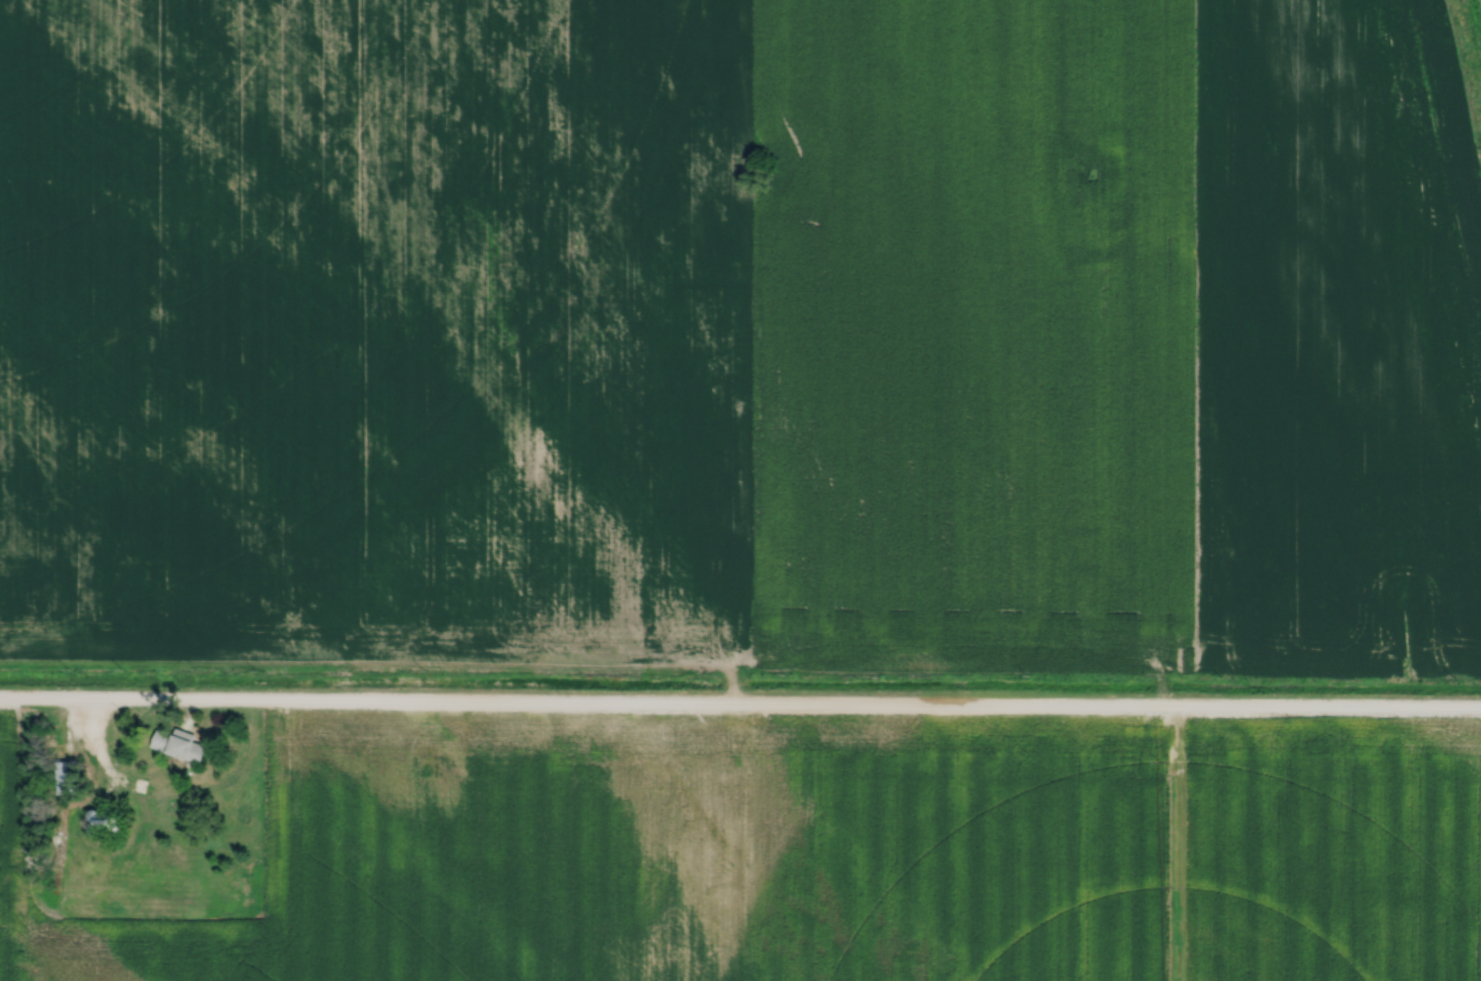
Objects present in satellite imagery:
road: (740, 707)
building: (181, 744)
building: (105, 823)

